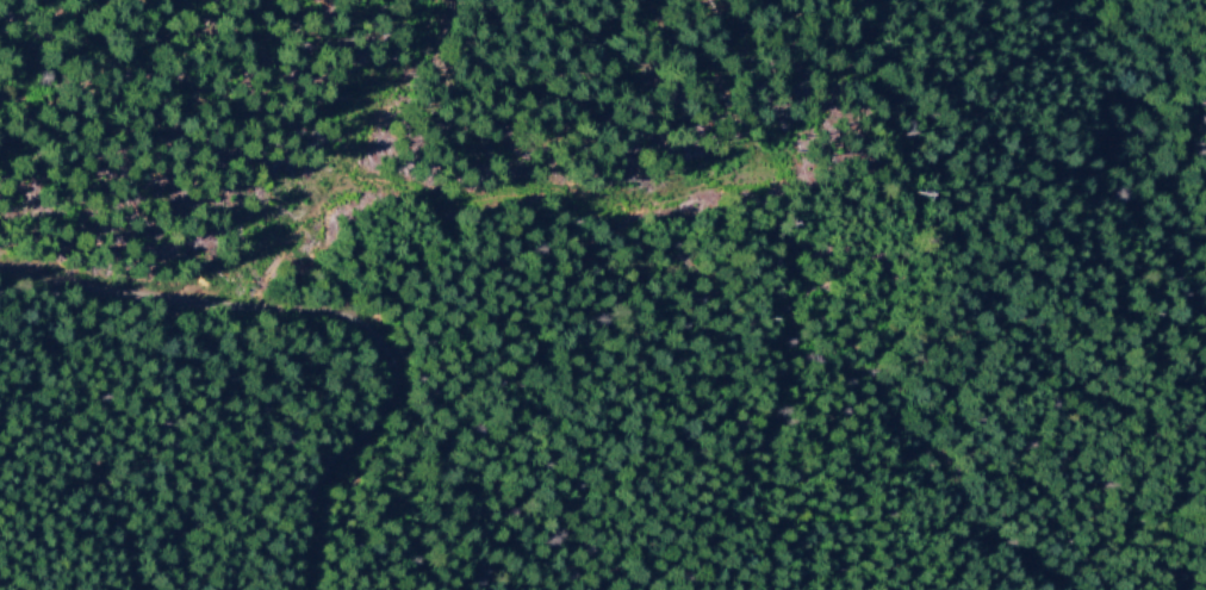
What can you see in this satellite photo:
road: (266, 358)

